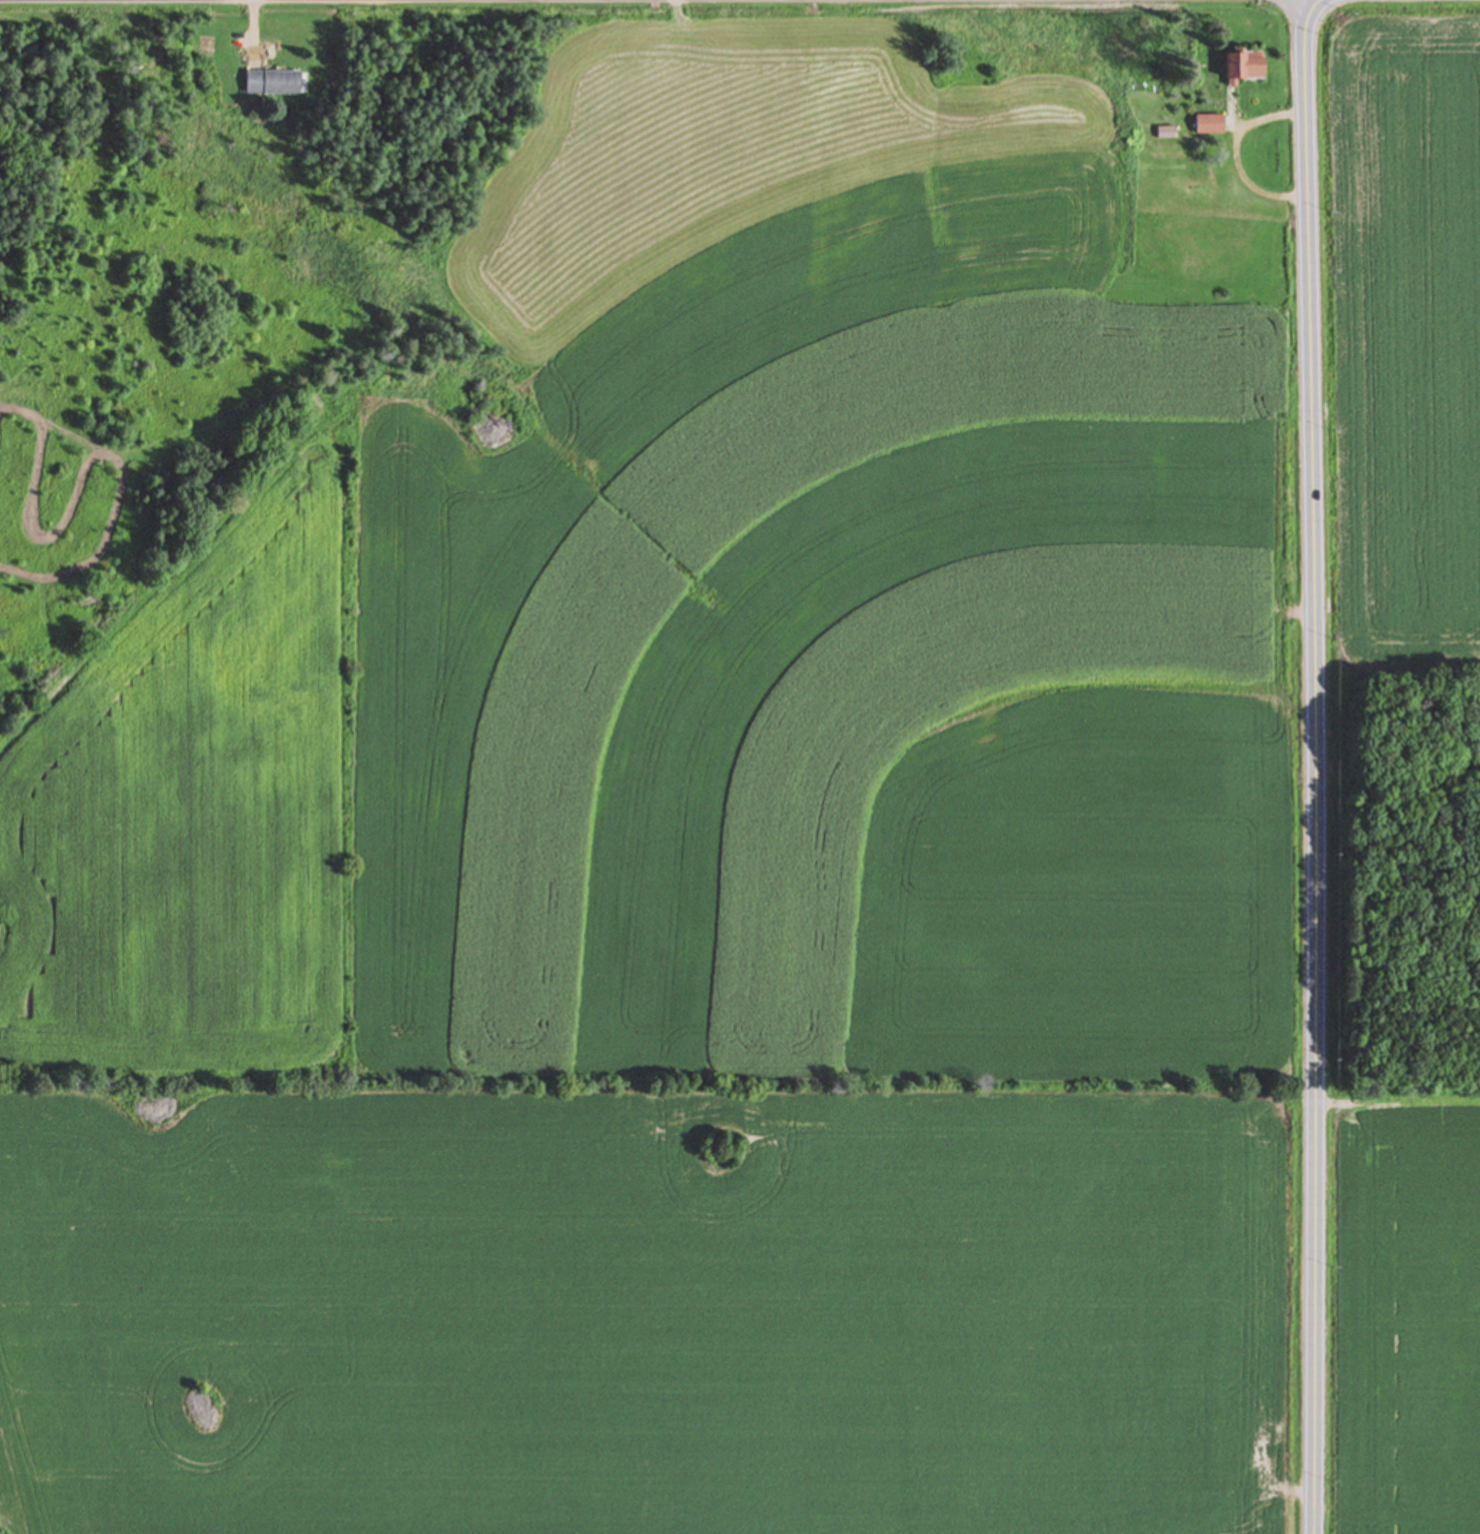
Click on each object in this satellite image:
building: (1243, 66)
building: (270, 83)
building: (1207, 125)
road: (1318, 766)

